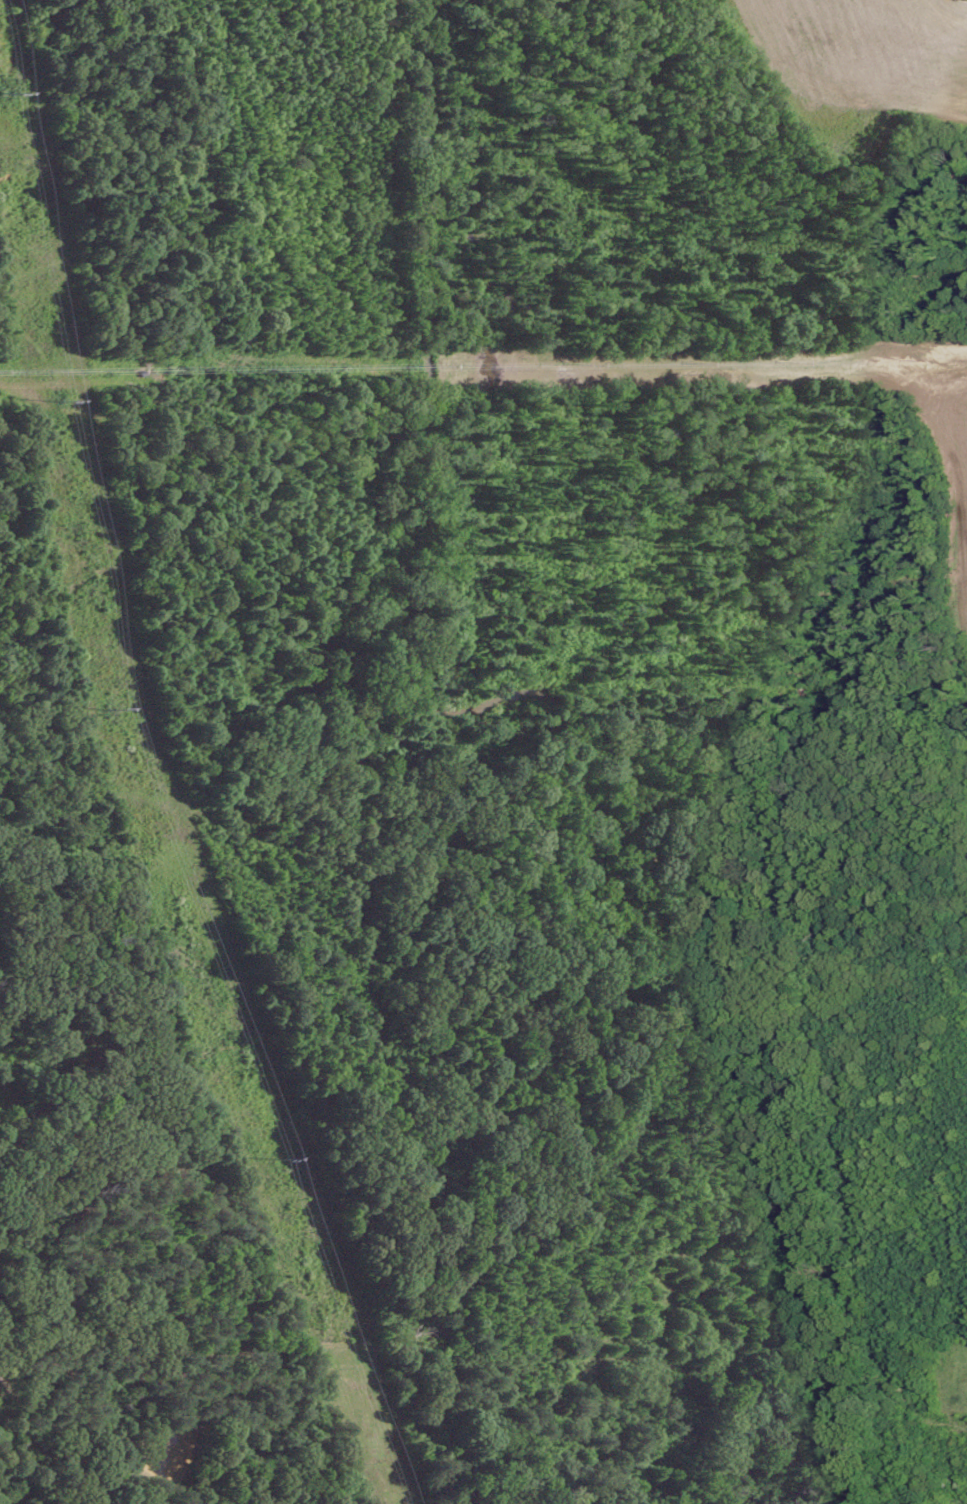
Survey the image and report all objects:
power tower: (15, 91)
power tower: (68, 400)
power tower: (117, 710)
power tower: (276, 1158)

